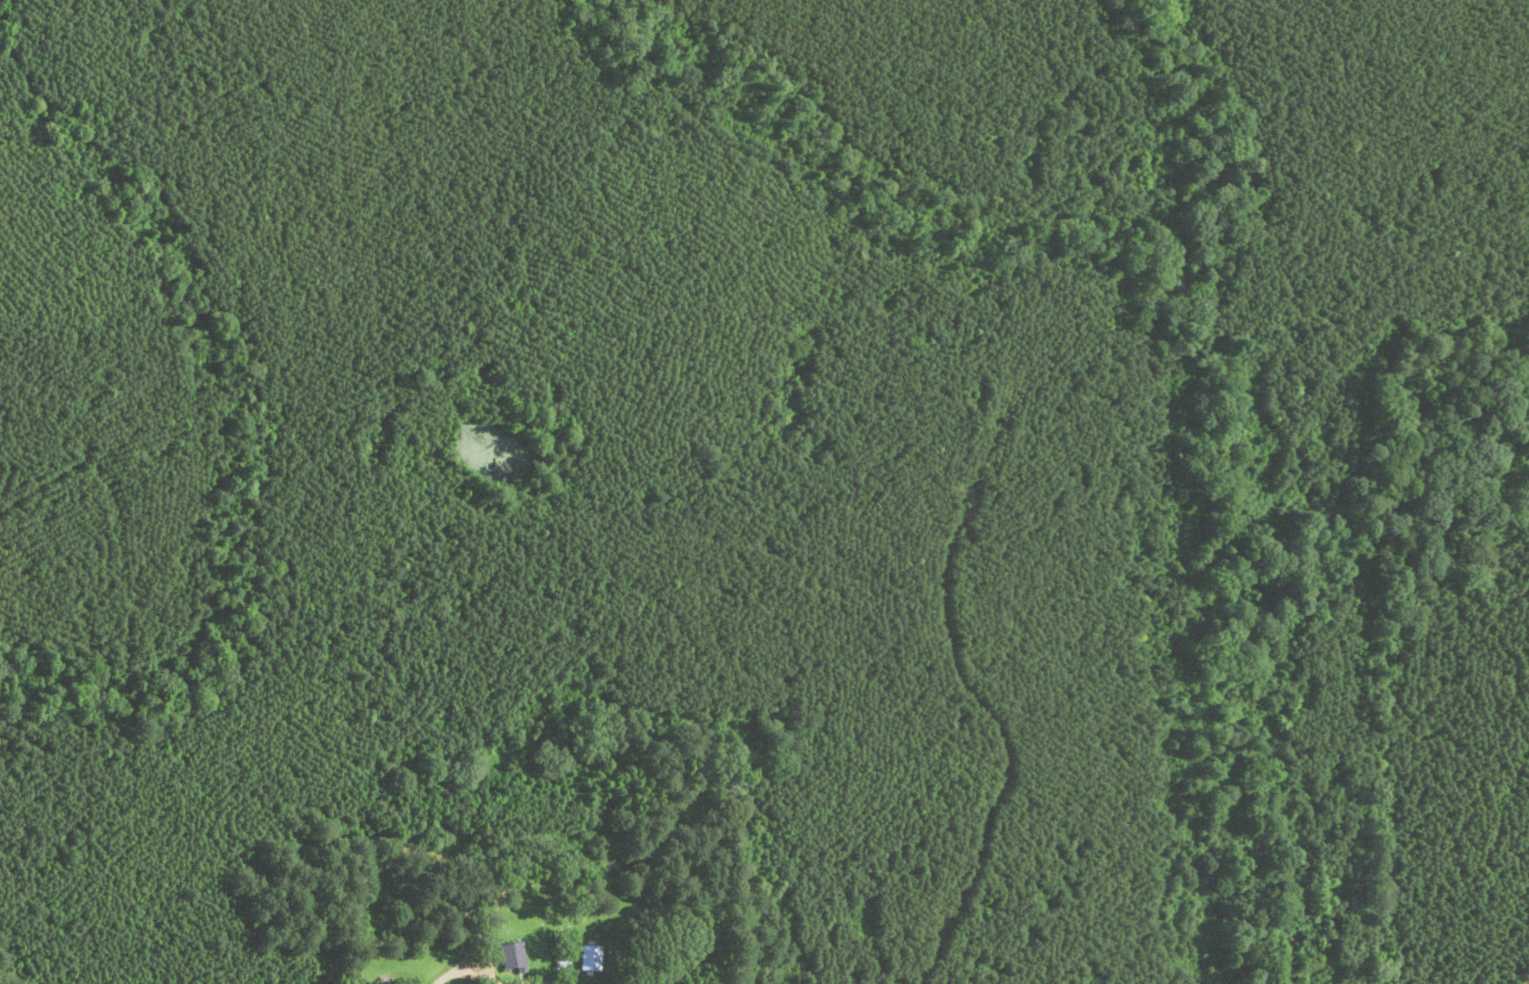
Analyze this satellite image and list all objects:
building: (750, 752)
building: (512, 957)
building: (590, 958)

